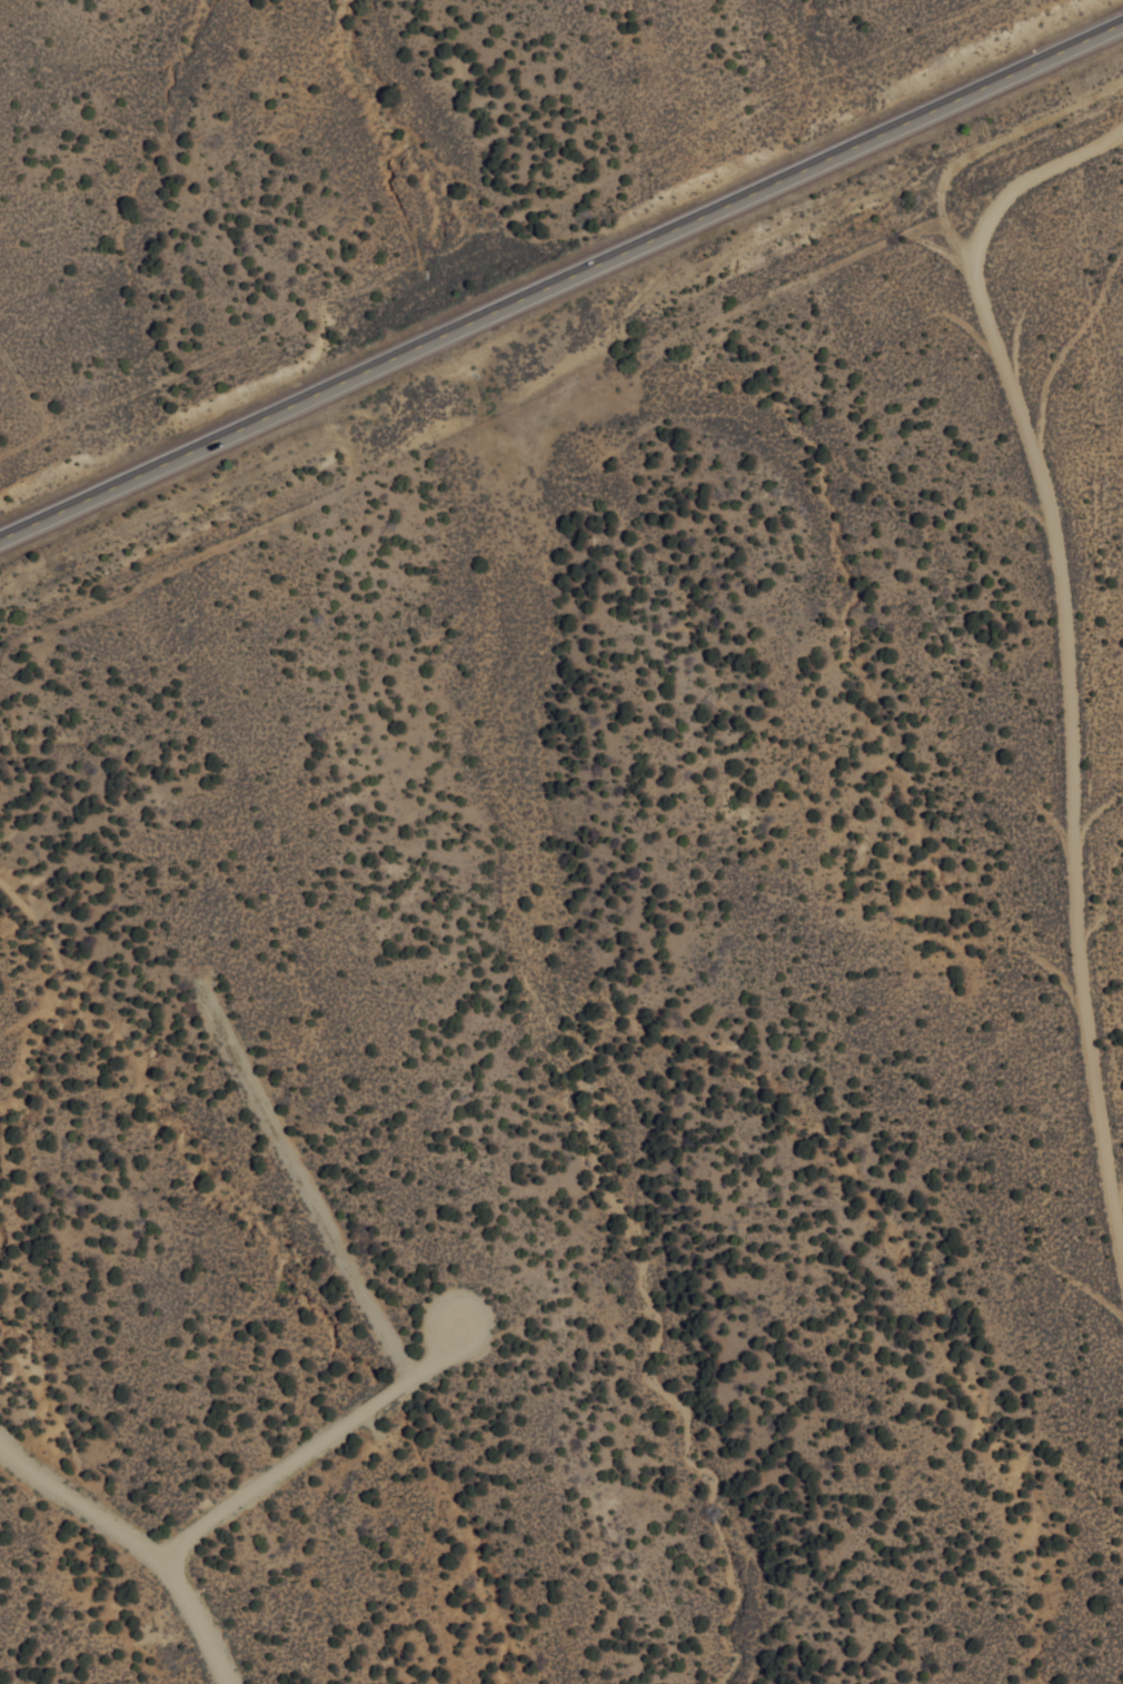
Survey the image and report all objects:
road: (561, 278)
road: (1071, 640)
road: (310, 1182)
road: (317, 1442)
road: (138, 1539)

